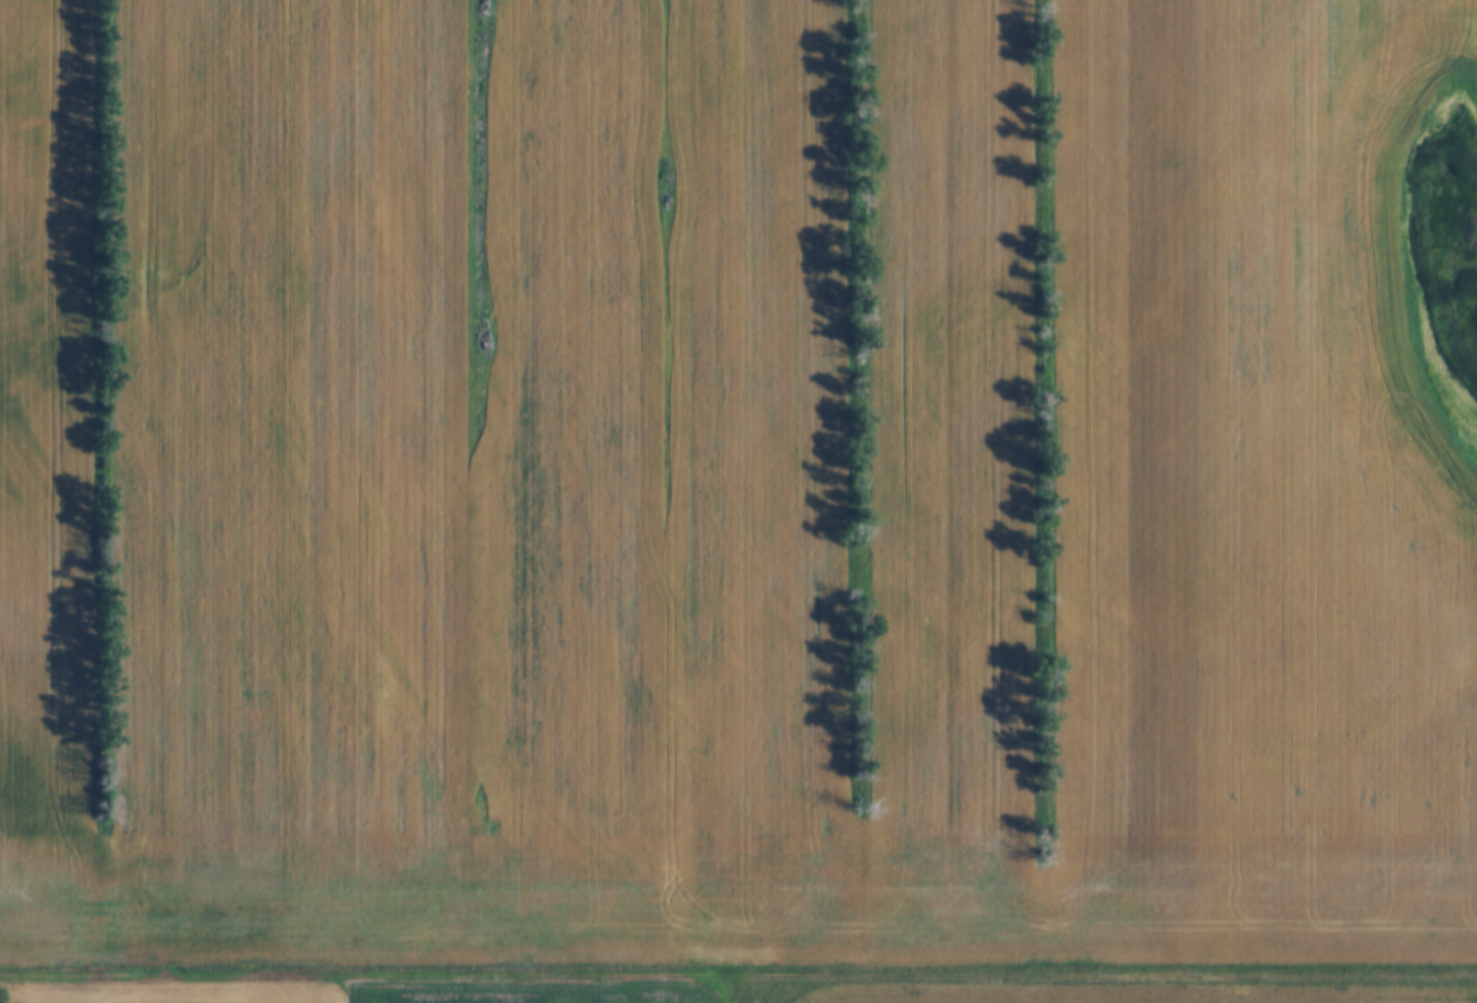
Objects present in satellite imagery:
road: (738, 957)

